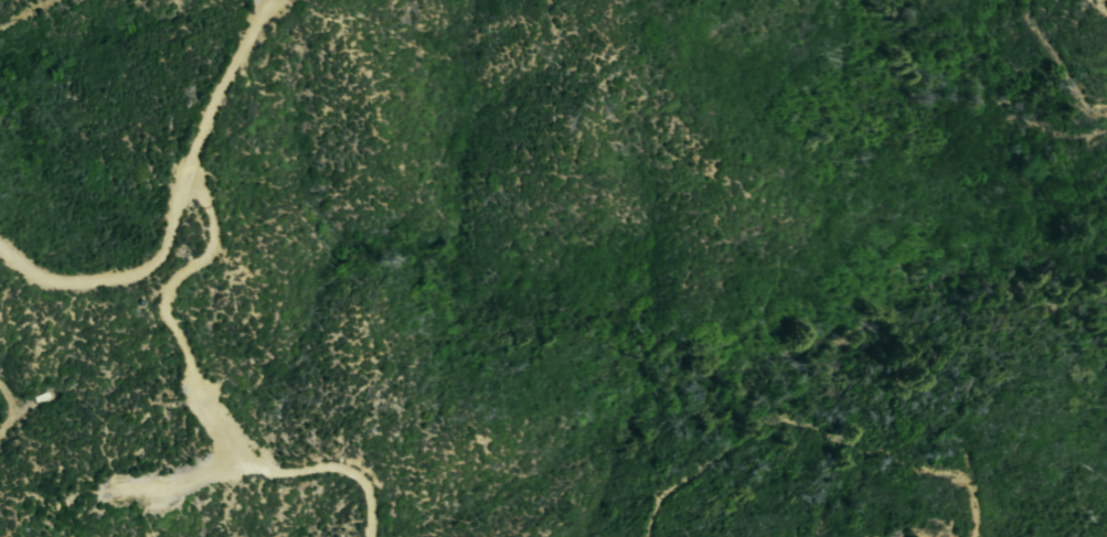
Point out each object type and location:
road: (258, 4)
road: (23, 14)
road: (178, 206)
road: (205, 401)

